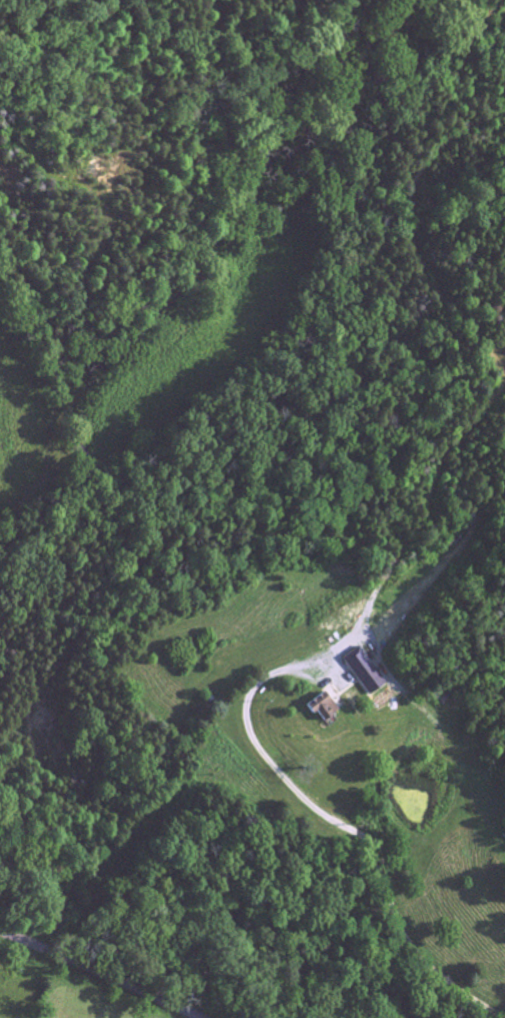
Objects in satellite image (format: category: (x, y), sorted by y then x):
building: (362, 673)
building: (320, 714)
road: (370, 842)
road: (112, 971)

